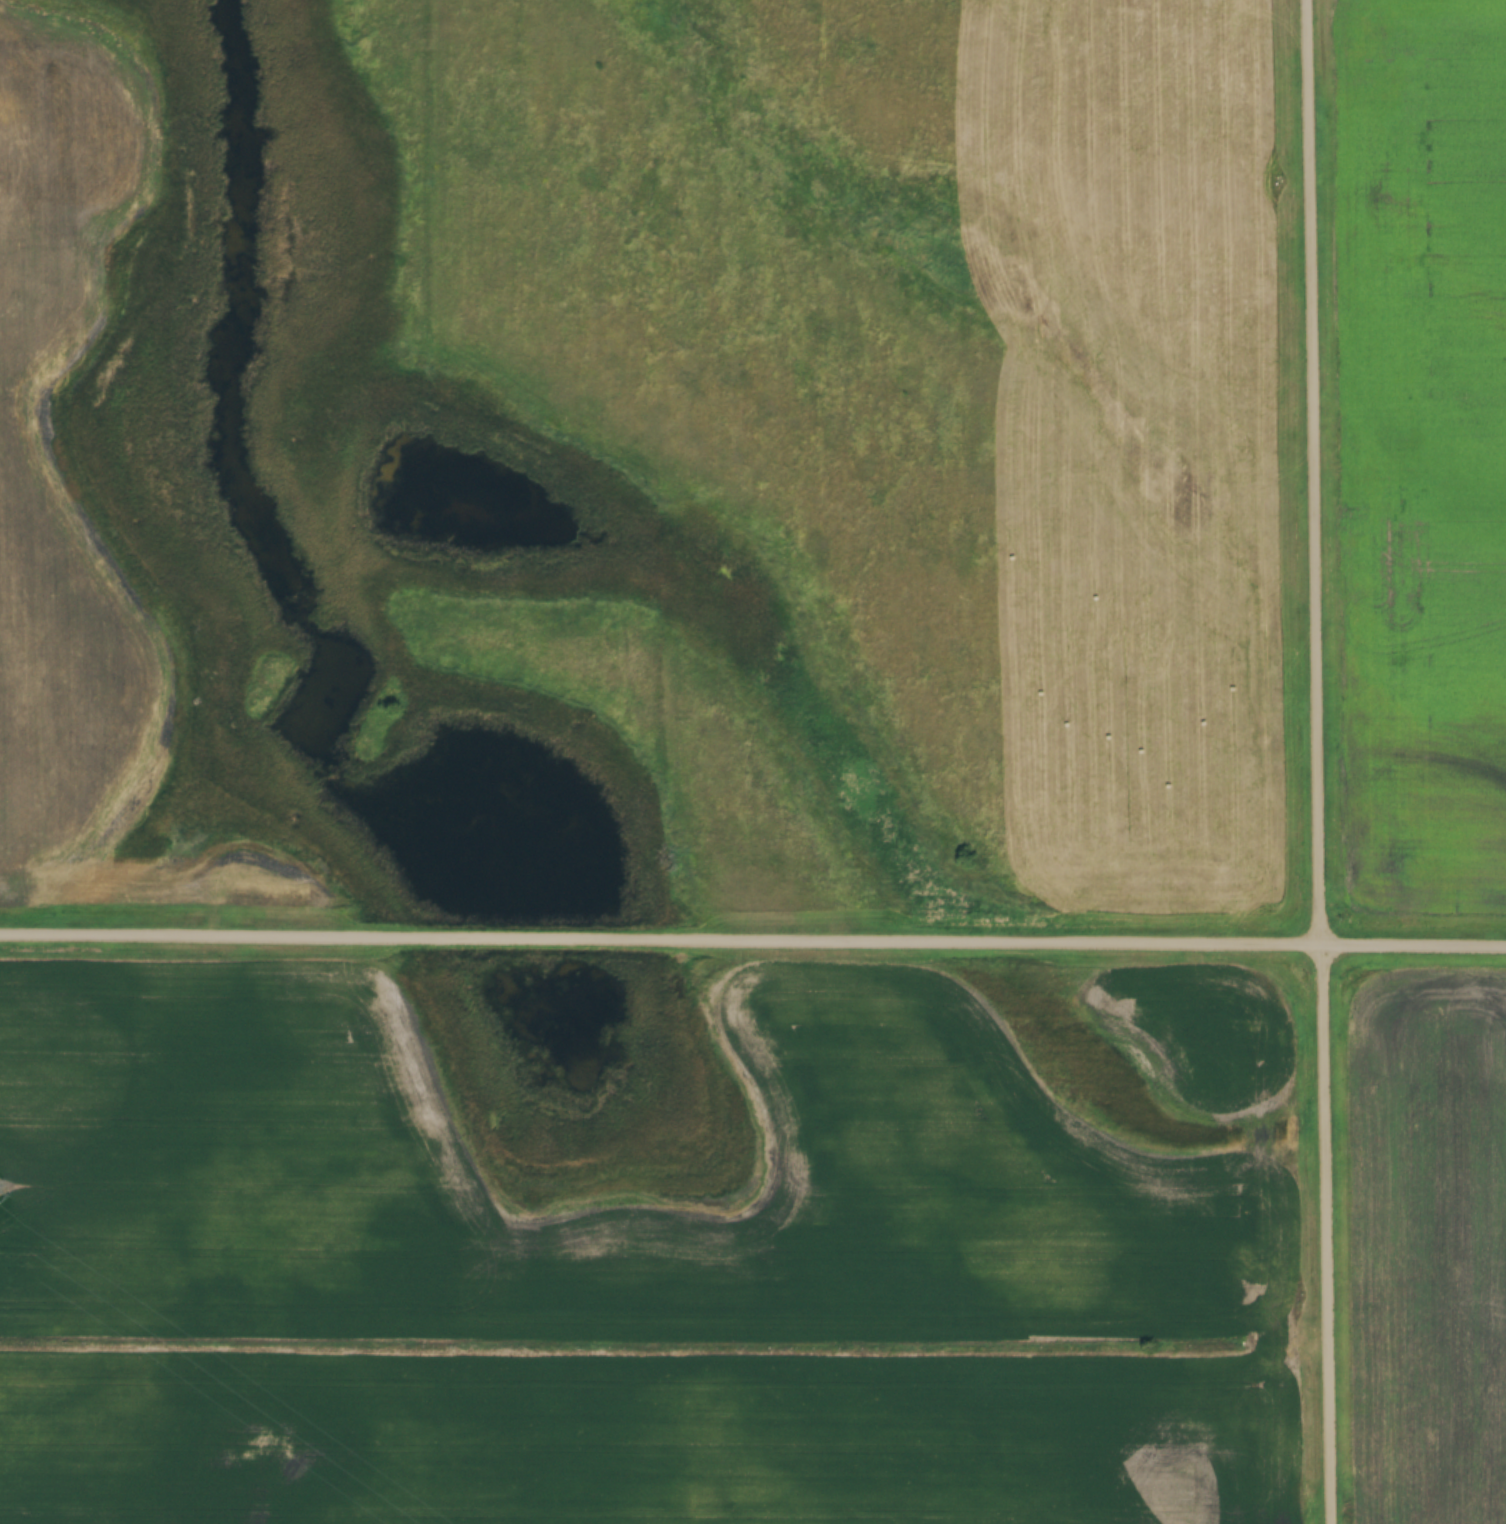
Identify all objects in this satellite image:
road: (1321, 762)
road: (752, 942)

